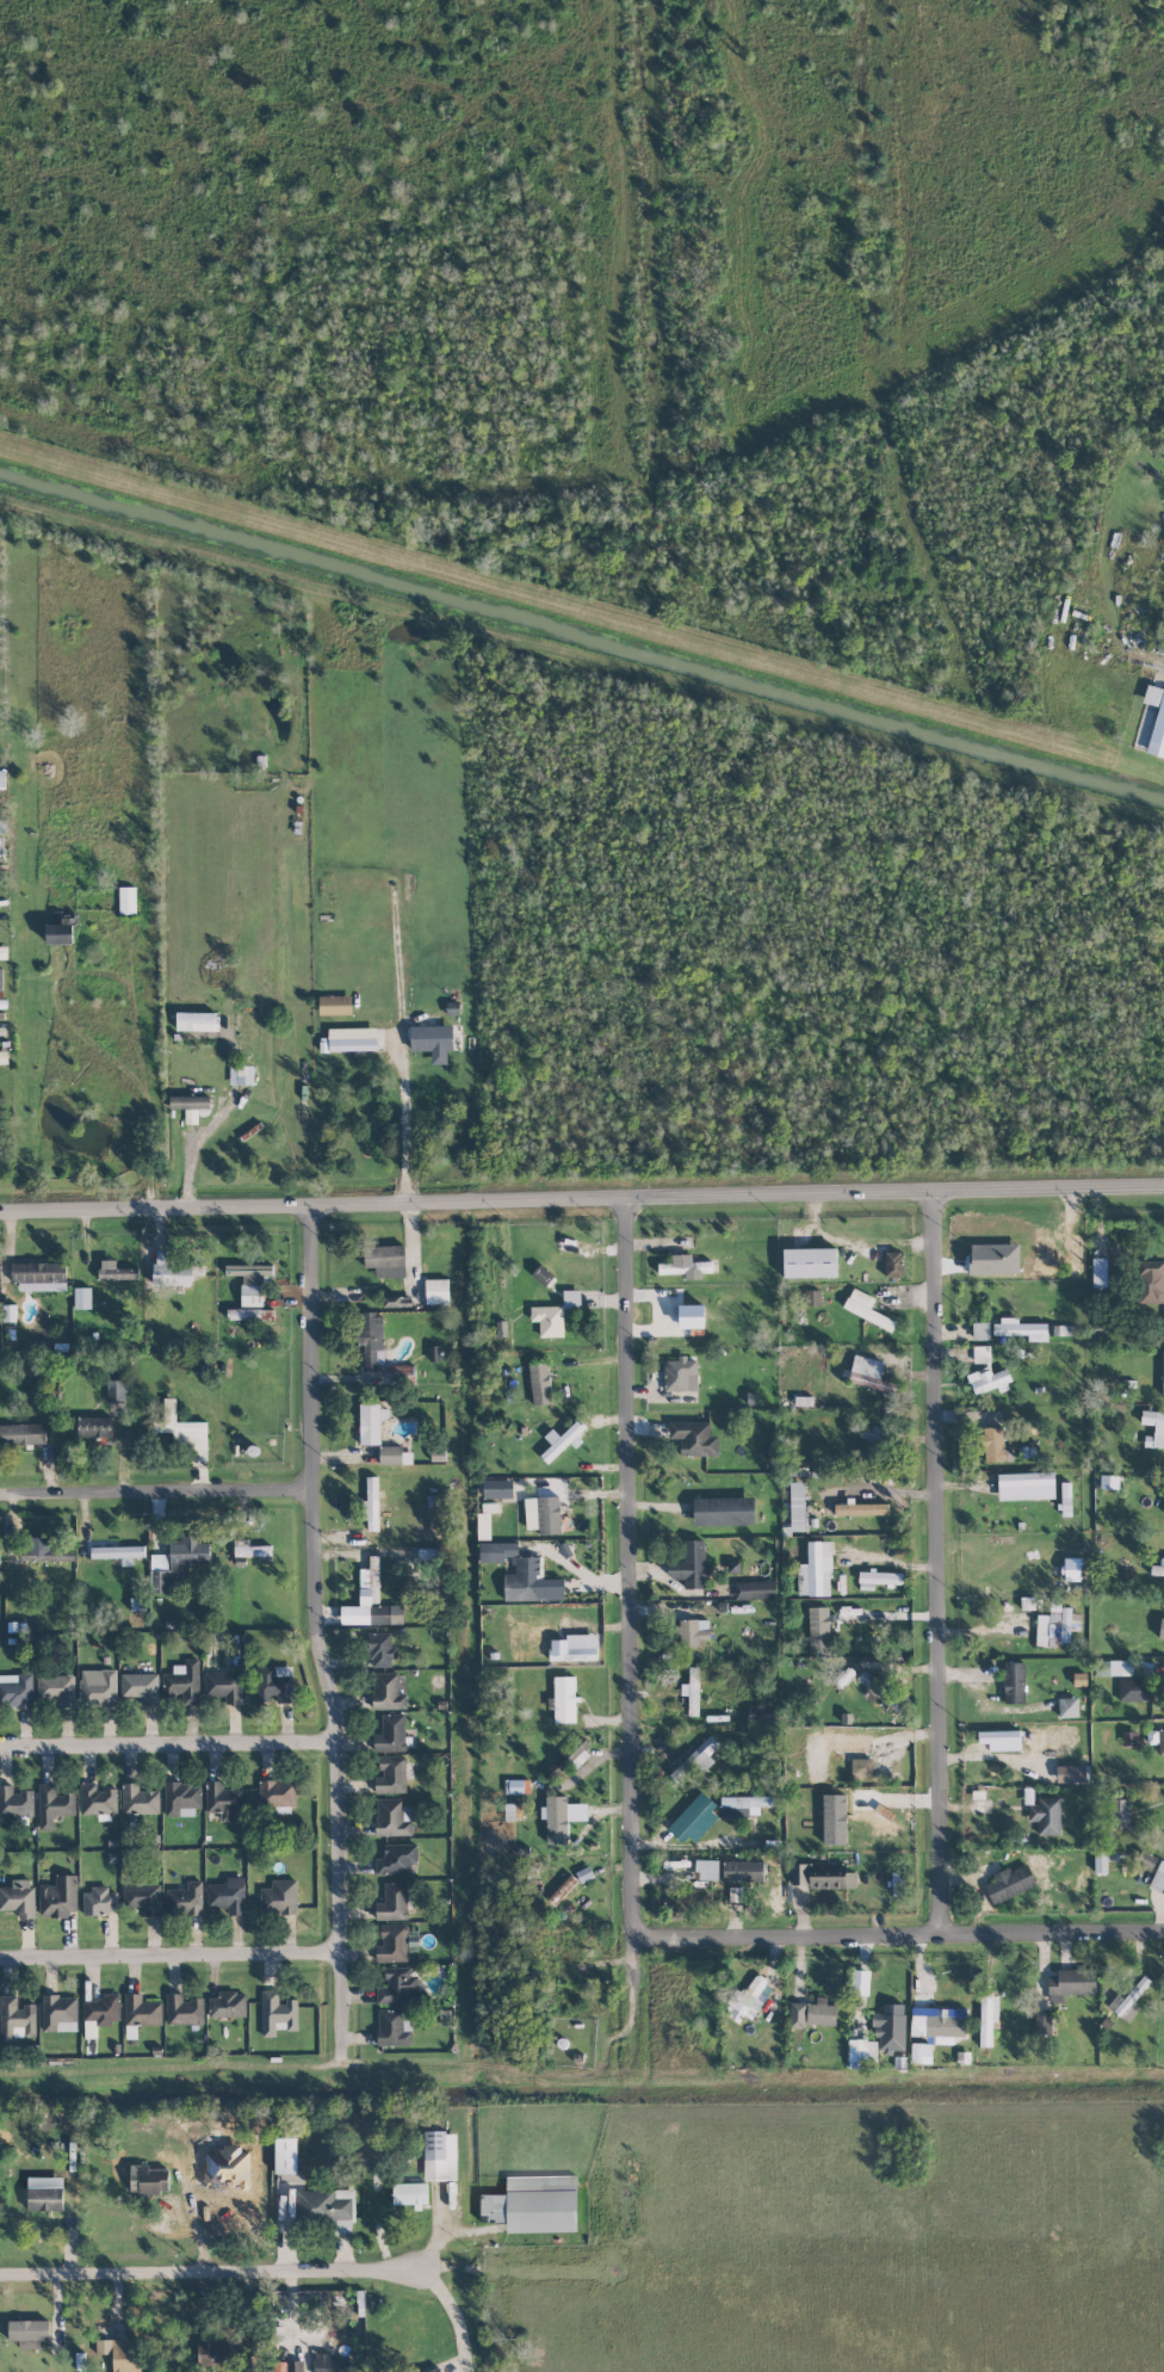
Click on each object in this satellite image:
road: (1152, 655)
building: (1156, 719)
building: (128, 900)
building: (58, 931)
road: (124, 978)
building: (1, 980)
building: (335, 1005)
building: (197, 1021)
building: (349, 1039)
building: (433, 1040)
building: (241, 1075)
building: (190, 1106)
road: (398, 1119)
road: (582, 1196)
building: (385, 1260)
building: (810, 1262)
building: (893, 1264)
building: (685, 1266)
building: (116, 1271)
building: (171, 1271)
building: (1098, 1272)
building: (543, 1274)
building: (39, 1275)
building: (252, 1280)
building: (1151, 1281)
building: (436, 1291)
building: (813, 1297)
building: (82, 1298)
building: (571, 1298)
building: (397, 1301)
building: (867, 1309)
building: (10, 1312)
building: (243, 1314)
building: (691, 1316)
building: (549, 1320)
building: (1021, 1329)
building: (1061, 1329)
building: (980, 1330)
building: (372, 1340)
building: (434, 1353)
building: (982, 1354)
building: (1163, 1371)
building: (681, 1373)
building: (871, 1375)
building: (989, 1380)
building: (540, 1384)
building: (116, 1390)
building: (371, 1422)
building: (94, 1427)
building: (1158, 1429)
building: (184, 1431)
building: (23, 1434)
building: (872, 1434)
building: (694, 1438)
building: (563, 1439)
building: (997, 1445)
building: (395, 1454)
building: (1109, 1482)
building: (1026, 1485)
building: (499, 1488)
road: (887, 1491)
road: (159, 1493)
building: (1066, 1499)
building: (371, 1505)
building: (797, 1506)
building: (1162, 1506)
building: (861, 1508)
building: (724, 1511)
building: (493, 1512)
building: (544, 1514)
building: (422, 1532)
building: (45, 1550)
building: (252, 1550)
building: (501, 1551)
building: (118, 1553)
building: (429, 1553)
building: (175, 1561)
road: (943, 1562)
building: (691, 1565)
building: (733, 1567)
building: (1071, 1569)
building: (816, 1570)
building: (1157, 1570)
road: (630, 1571)
building: (879, 1579)
building: (525, 1581)
road: (318, 1582)
building: (755, 1589)
building: (137, 1604)
building: (372, 1604)
building: (1057, 1625)
building: (1162, 1629)
building: (818, 1630)
building: (694, 1631)
building: (574, 1648)
building: (380, 1650)
building: (1114, 1668)
building: (844, 1678)
building: (182, 1682)
building: (1014, 1682)
building: (275, 1684)
building: (224, 1686)
building: (98, 1687)
building: (141, 1687)
building: (56, 1688)
building: (1137, 1688)
building: (881, 1690)
building: (692, 1691)
building: (17, 1692)
building: (388, 1692)
building: (564, 1699)
building: (1067, 1707)
building: (761, 1713)
building: (391, 1734)
building: (1053, 1736)
building: (1129, 1738)
building: (1001, 1740)
building: (1160, 1741)
building: (853, 1746)
road: (172, 1748)
building: (569, 1759)
building: (698, 1761)
building: (861, 1767)
building: (1071, 1773)
building: (391, 1775)
building: (515, 1786)
building: (277, 1792)
building: (140, 1799)
building: (181, 1799)
building: (223, 1799)
building: (98, 1800)
building: (978, 1800)
building: (16, 1802)
building: (54, 1805)
building: (743, 1805)
building: (513, 1811)
building: (1120, 1814)
building: (1046, 1815)
building: (392, 1817)
building: (562, 1817)
building: (694, 1818)
building: (834, 1818)
building: (881, 1818)
building: (397, 1859)
building: (1104, 1860)
building: (1145, 1860)
building: (707, 1870)
building: (743, 1871)
building: (584, 1873)
building: (799, 1873)
building: (830, 1876)
building: (1158, 1878)
building: (898, 1882)
building: (1009, 1883)
building: (562, 1889)
building: (735, 1894)
building: (228, 1895)
building: (60, 1896)
building: (19, 1897)
building: (279, 1897)
building: (143, 1898)
building: (185, 1900)
building: (99, 1901)
building: (392, 1902)
road: (900, 1939)
building: (396, 1942)
road: (173, 1959)
building: (1071, 1983)
building: (400, 1987)
building: (748, 2000)
building: (1128, 2001)
building: (228, 2005)
building: (103, 2009)
building: (184, 2009)
building: (142, 2010)
road: (346, 2010)
building: (60, 2013)
building: (821, 2013)
building: (277, 2014)
building: (797, 2015)
building: (987, 2016)
building: (16, 2018)
building: (939, 2022)
building: (1042, 2024)
building: (395, 2027)
building: (890, 2027)
building: (89, 2028)
building: (862, 2052)
building: (921, 2052)
road: (541, 2071)
building: (285, 2155)
building: (440, 2155)
building: (150, 2180)
building: (409, 2194)
building: (45, 2199)
building: (534, 2204)
building: (328, 2207)
road: (192, 2215)
road: (210, 2272)
road: (453, 2315)
building: (29, 2333)
building: (212, 2351)
building: (122, 2353)
building: (332, 2364)
building: (295, 2366)

